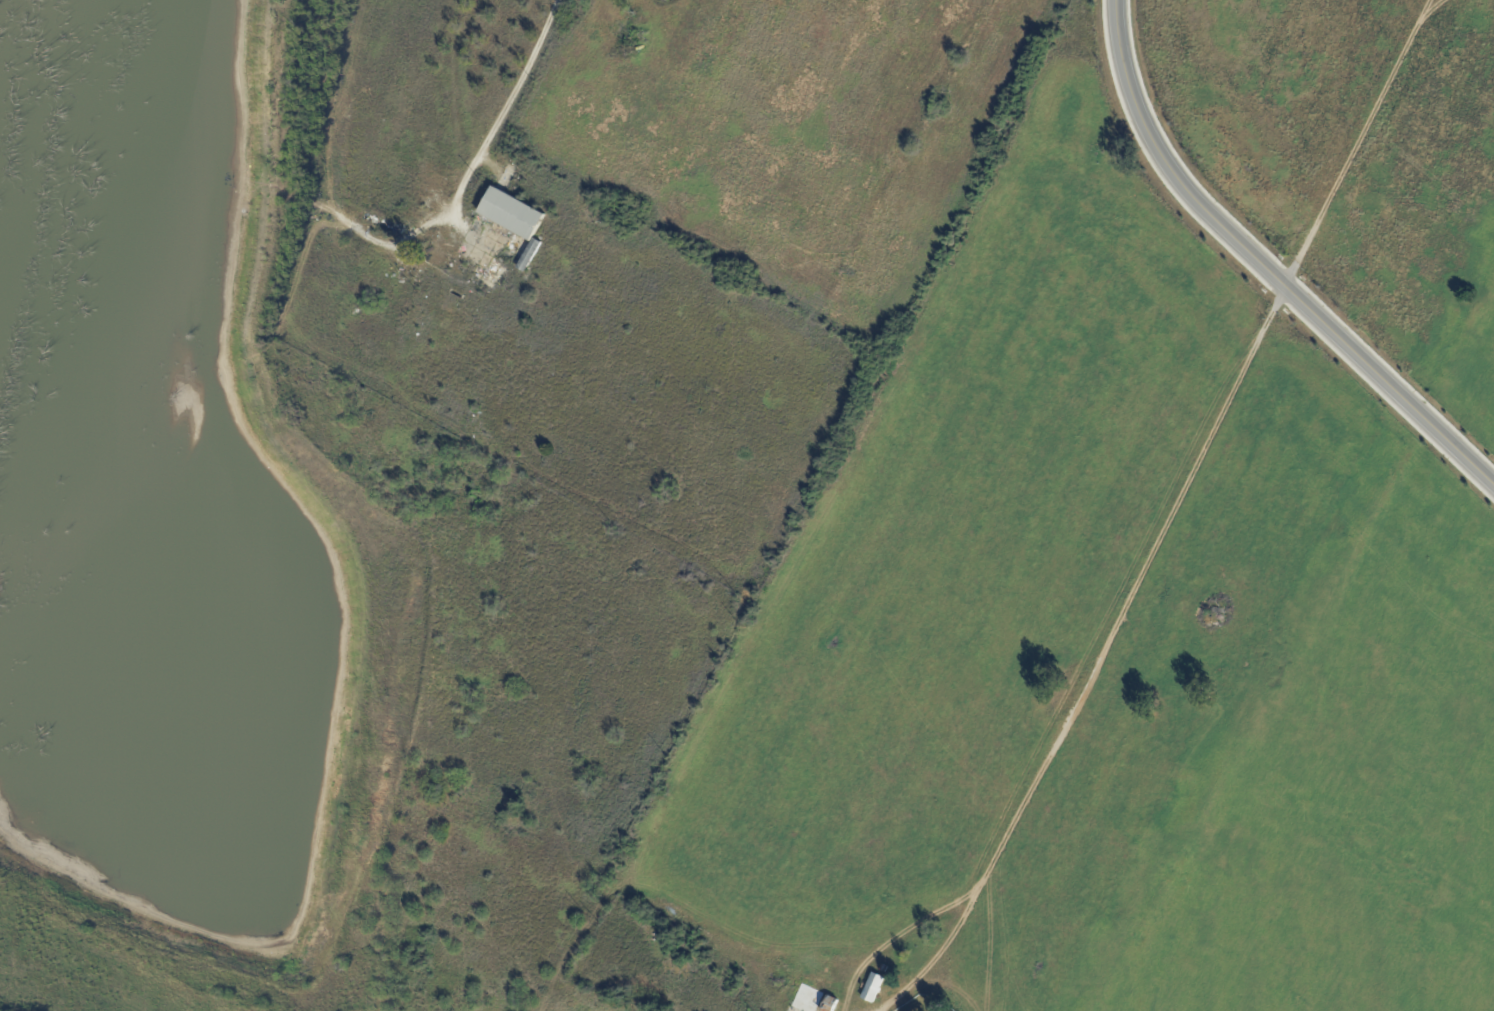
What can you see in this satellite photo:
building: (614, 12)
building: (648, 13)
building: (622, 40)
building: (595, 48)
road: (505, 106)
building: (513, 214)
building: (530, 256)
road: (1263, 267)
road: (1170, 515)
crop: (1011, 577)
crop: (1337, 788)
road: (895, 936)
building: (886, 969)
building: (875, 988)
building: (817, 996)

